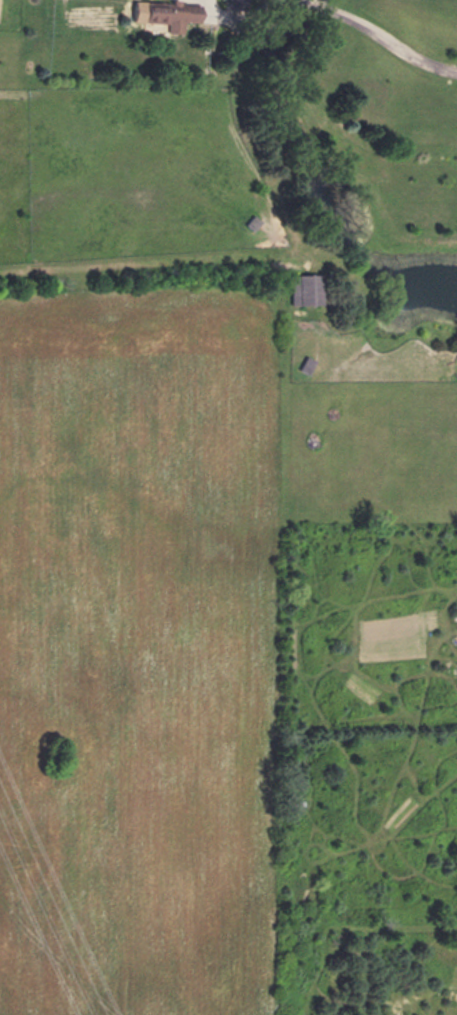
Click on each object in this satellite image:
building: (170, 15)
road: (381, 36)
building: (308, 288)
building: (307, 365)

